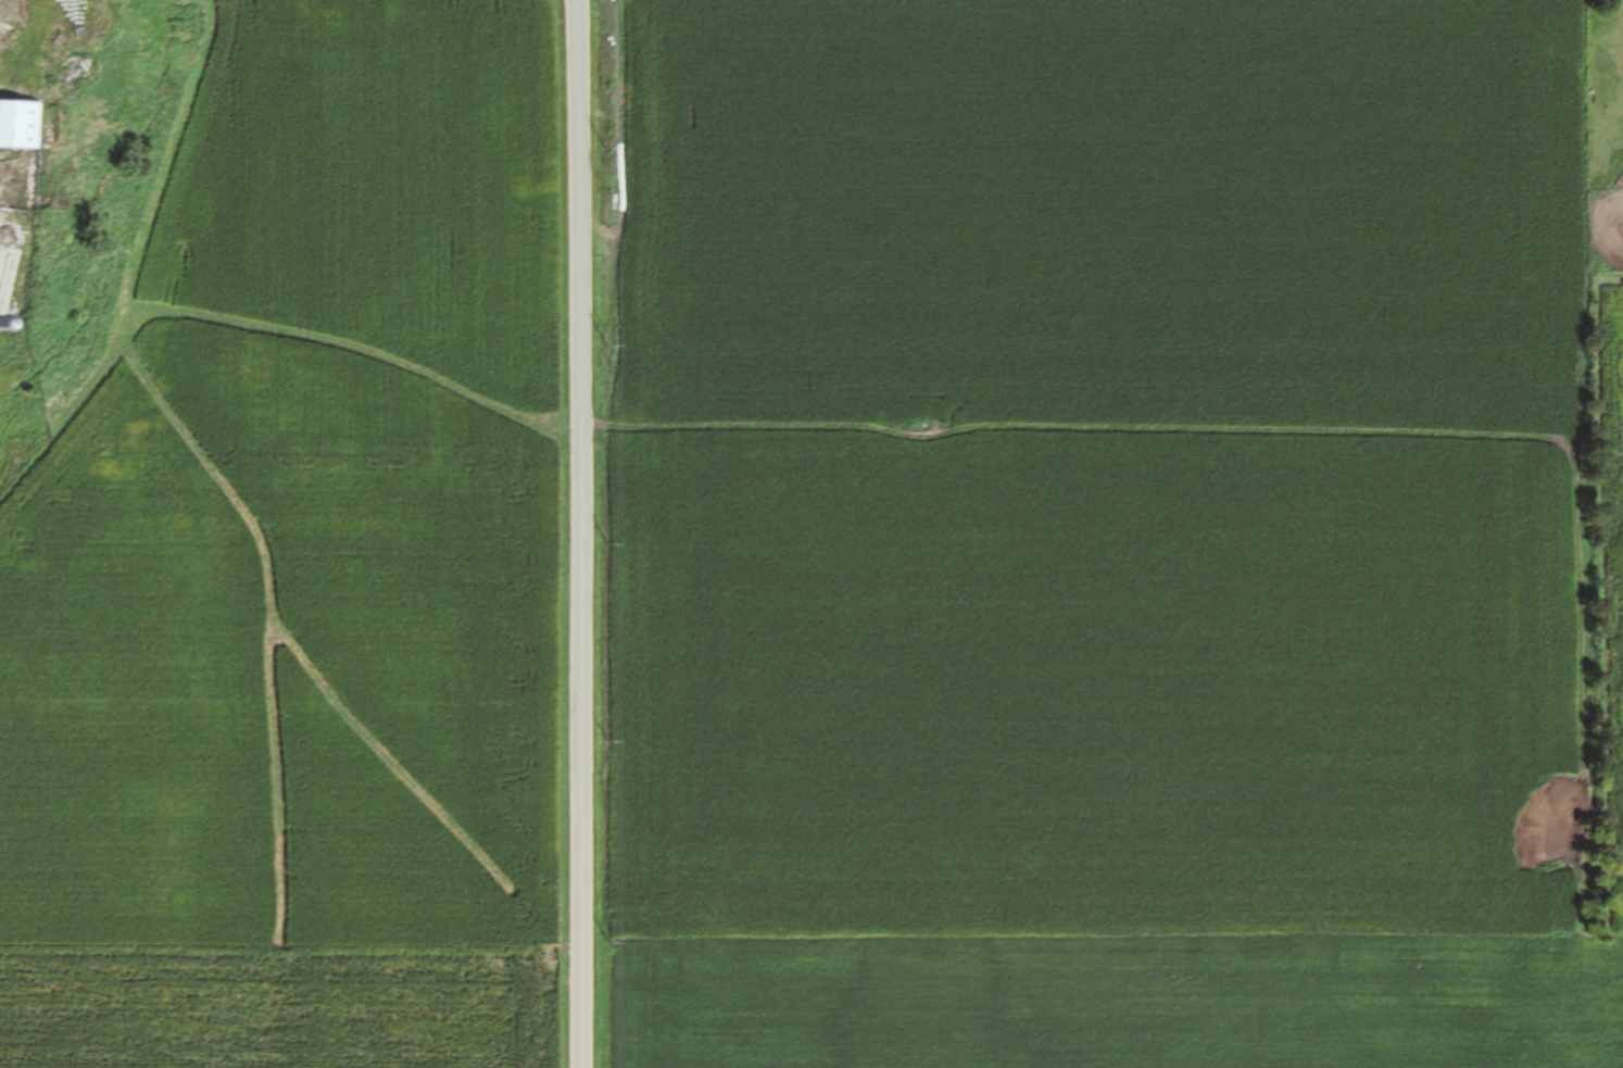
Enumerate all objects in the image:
building: (20, 123)
road: (577, 533)

